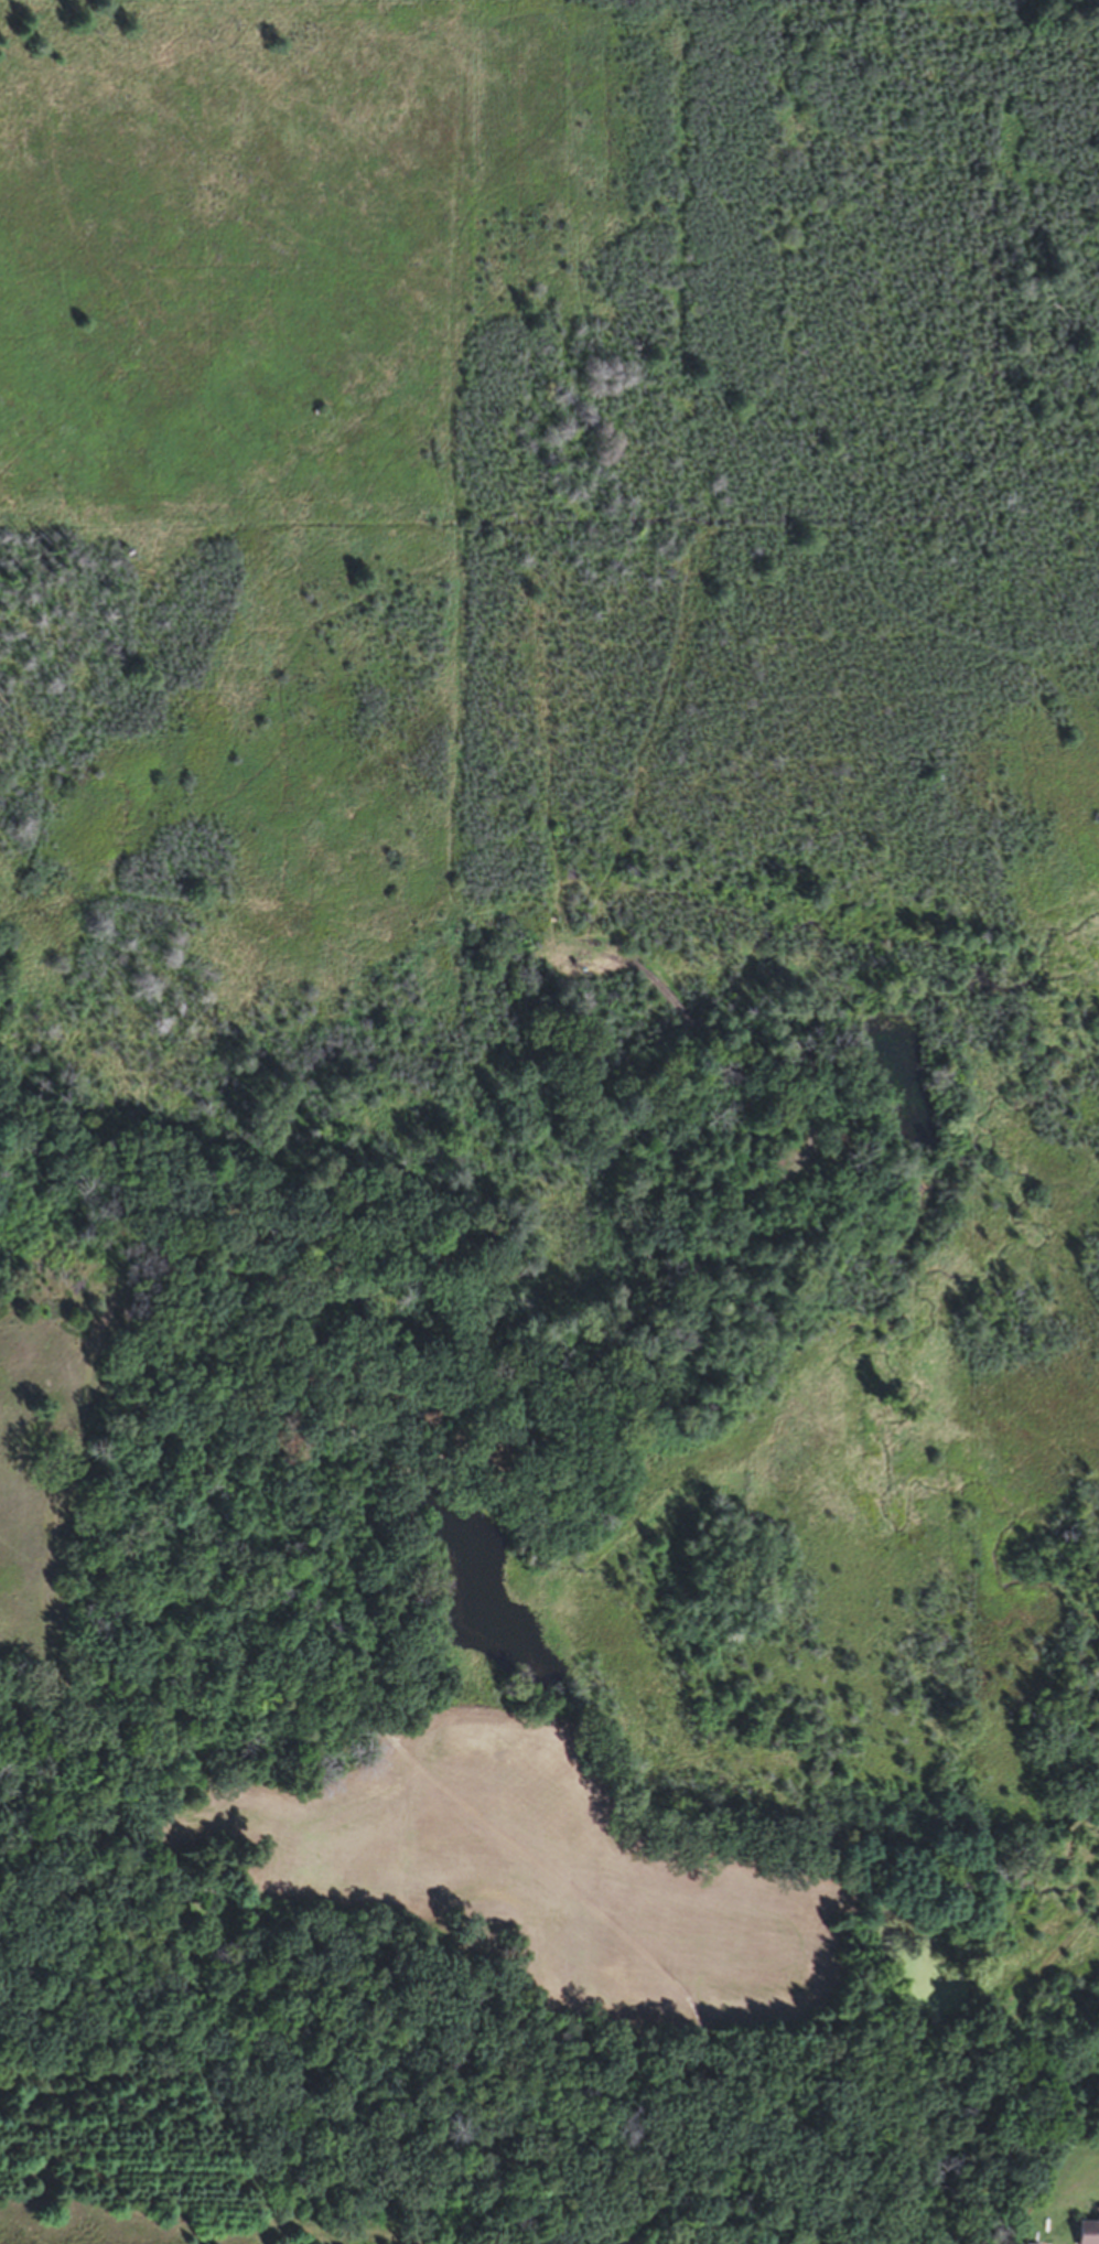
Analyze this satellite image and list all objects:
building: (1088, 2235)

